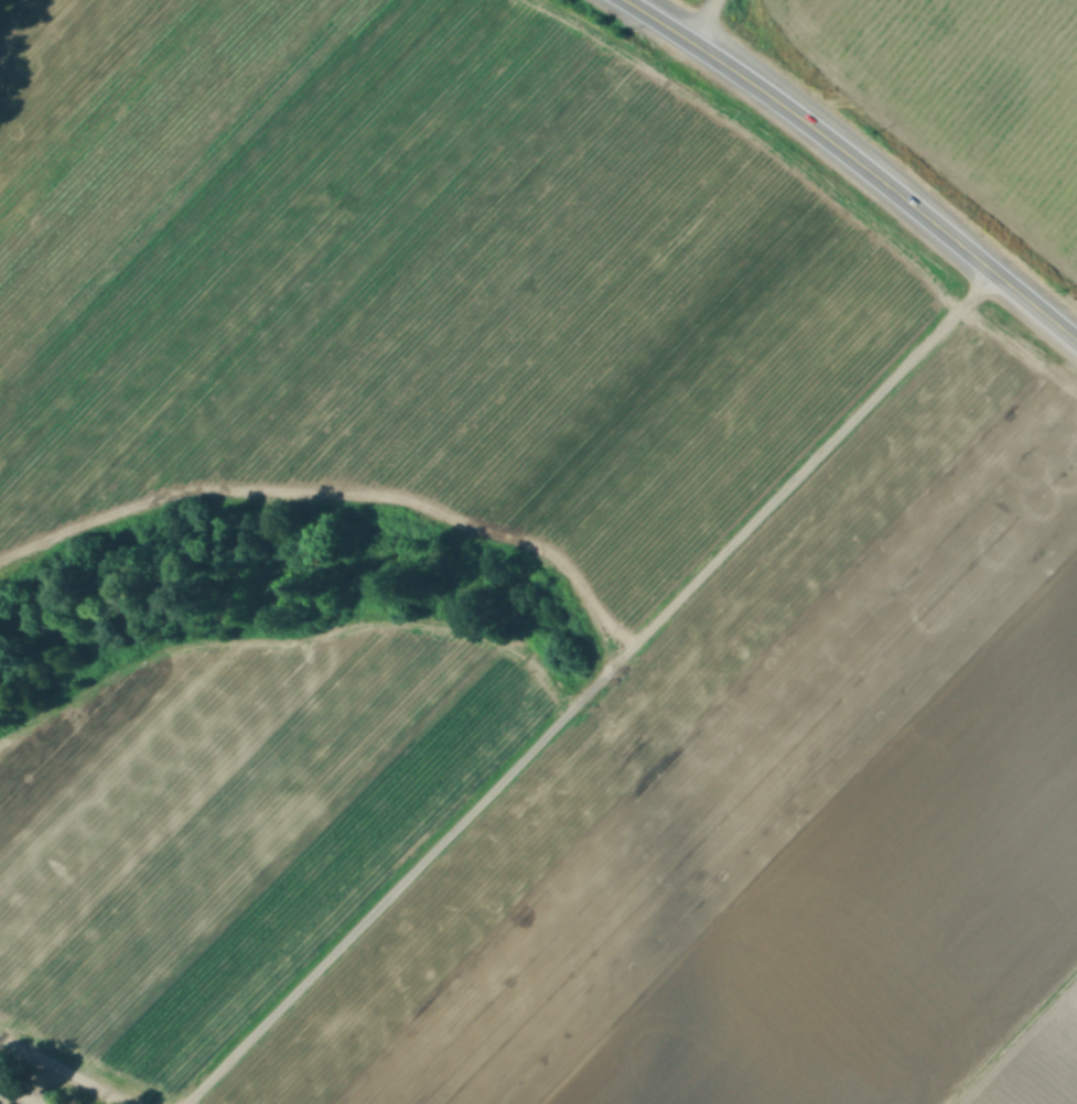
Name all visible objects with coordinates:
road: (702, 22)
crop: (956, 98)
road: (855, 161)
crop: (821, 563)

